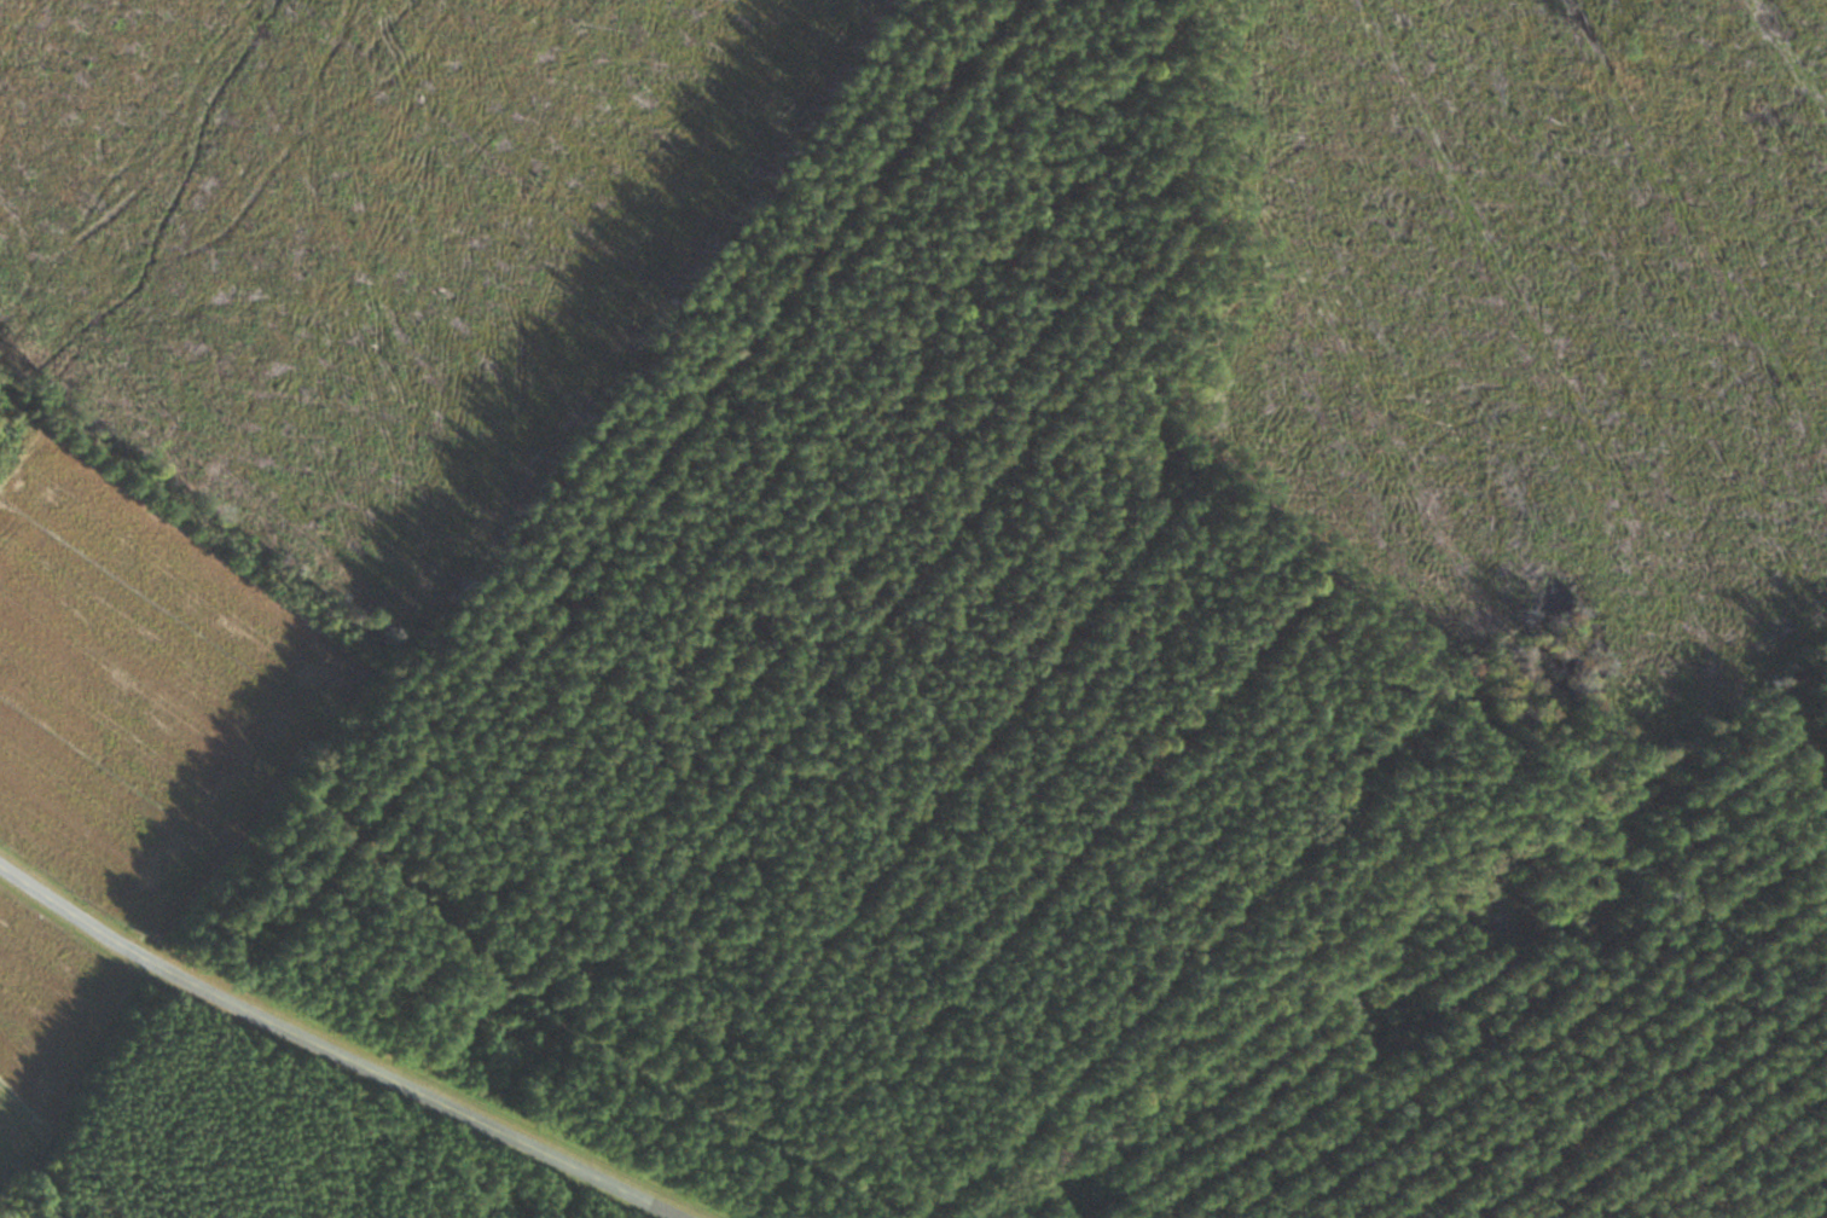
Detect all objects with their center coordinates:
road: (331, 1052)

